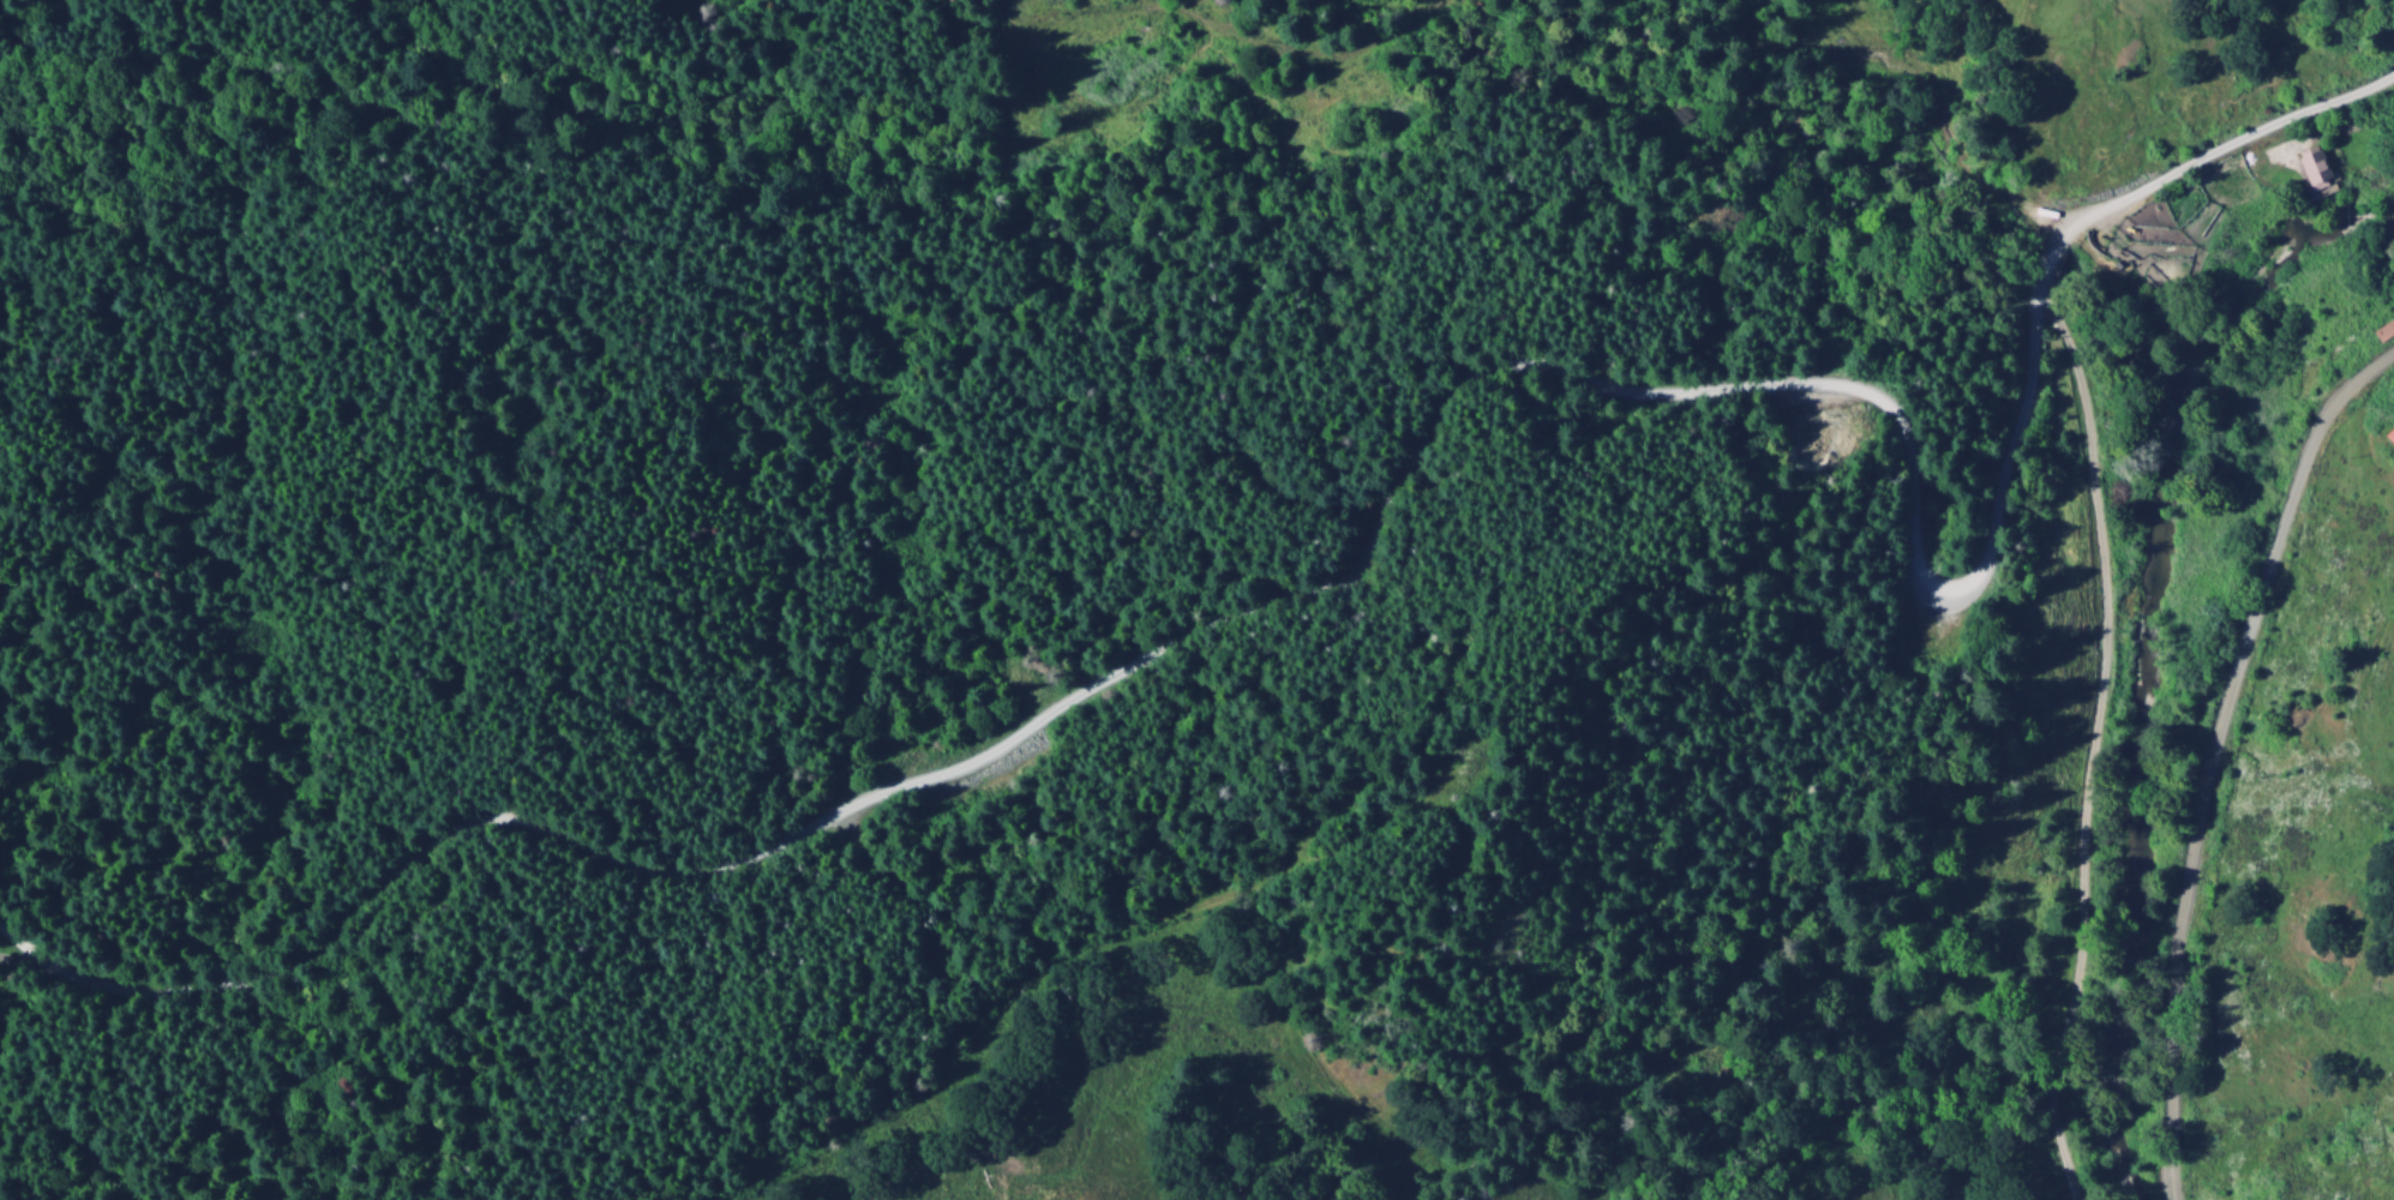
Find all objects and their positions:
road: (196, 17)
road: (316, 42)
road: (1469, 44)
road: (2224, 143)
building: (2317, 170)
road: (2054, 246)
building: (2383, 332)
building: (2392, 437)
road: (1224, 622)
road: (2094, 733)
road: (2212, 754)

